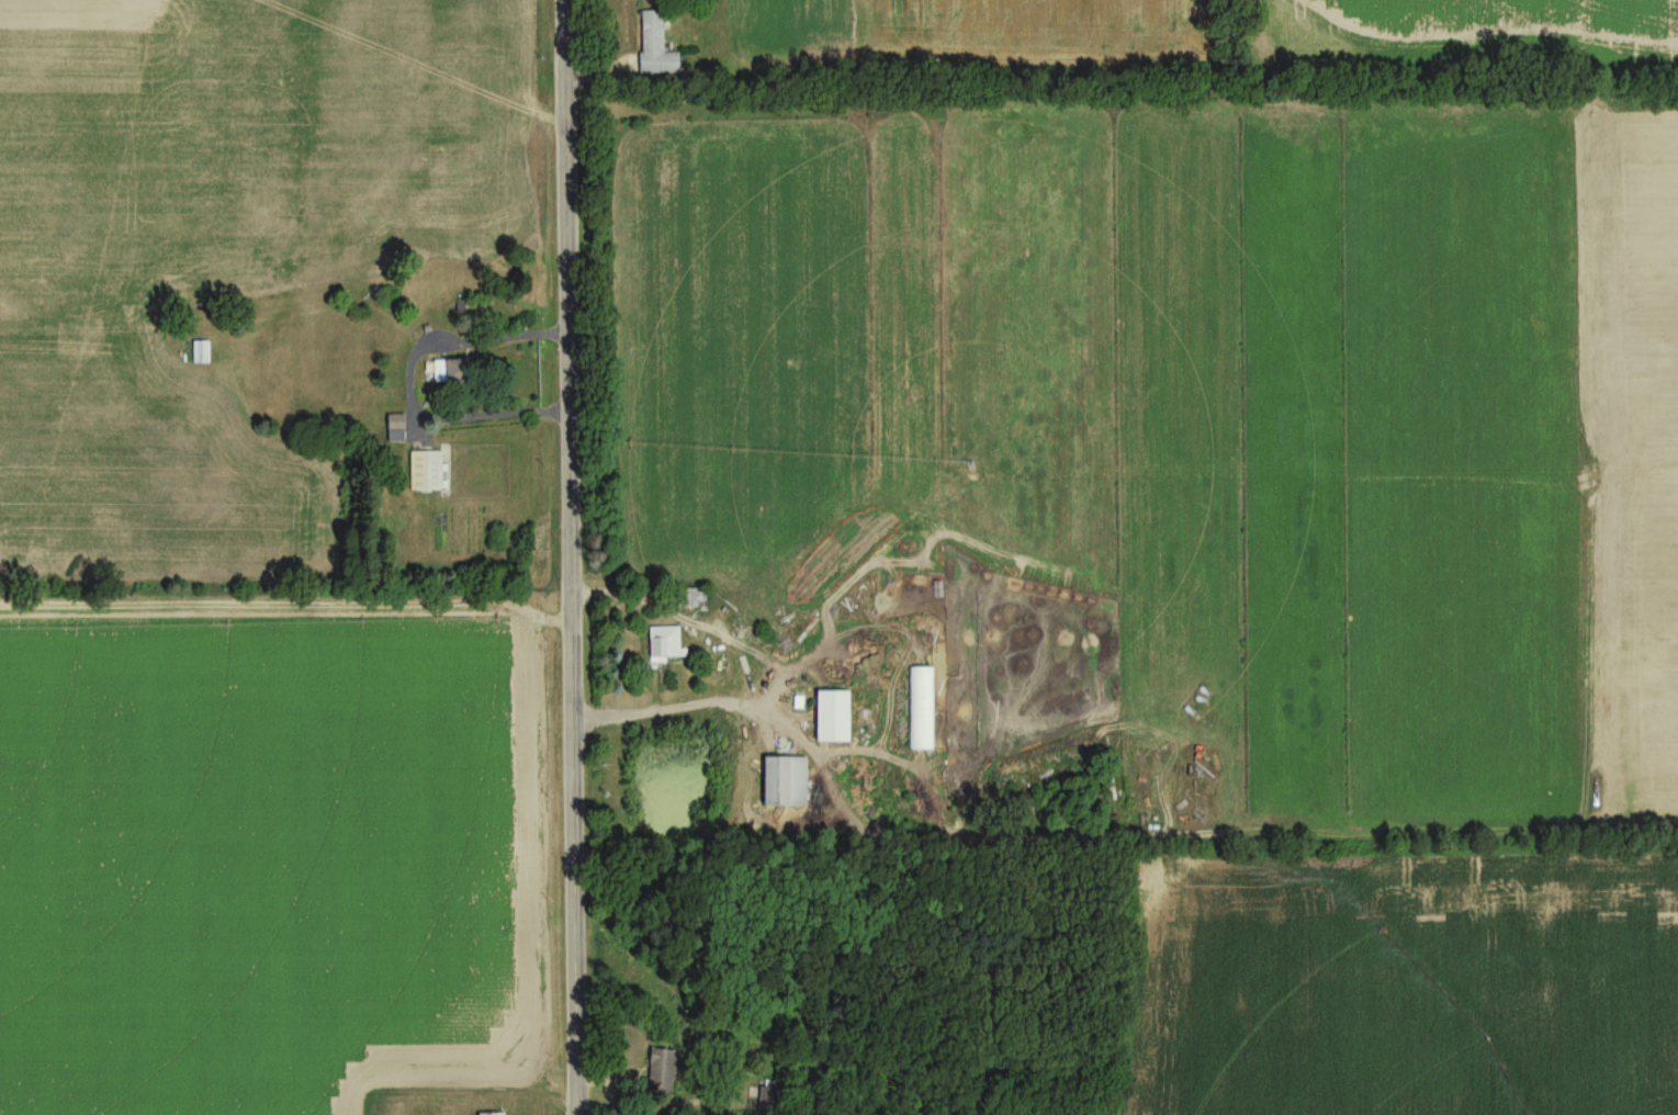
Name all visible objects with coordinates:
building: (655, 48)
crop: (219, 246)
building: (201, 354)
building: (451, 374)
road: (406, 382)
building: (396, 431)
building: (426, 474)
road: (567, 556)
building: (690, 601)
building: (666, 646)
road: (777, 676)
building: (922, 711)
building: (833, 719)
building: (786, 782)
crop: (259, 845)
building: (661, 1073)
building: (770, 1102)

